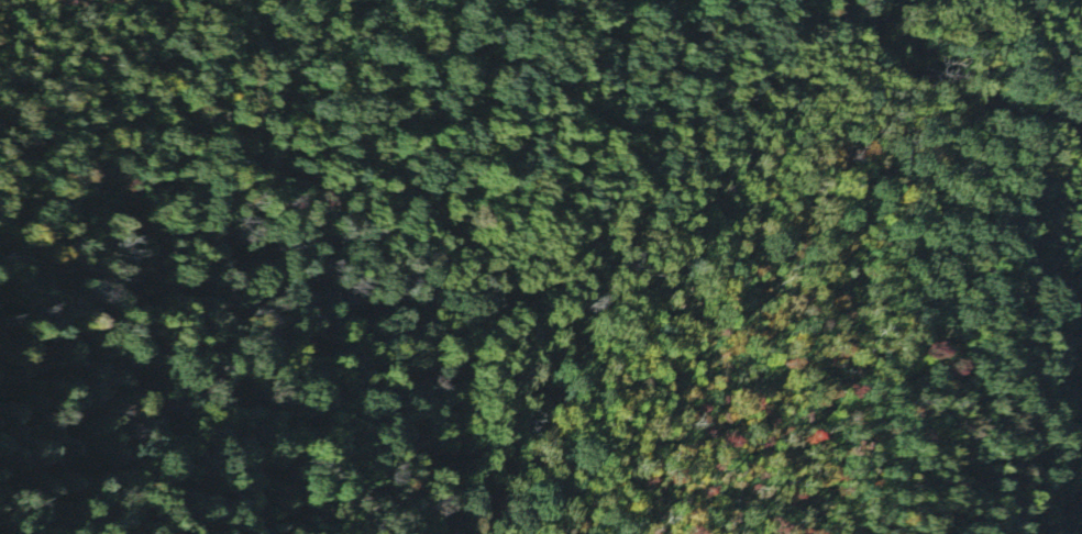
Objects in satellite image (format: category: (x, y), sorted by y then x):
road: (950, 89)

